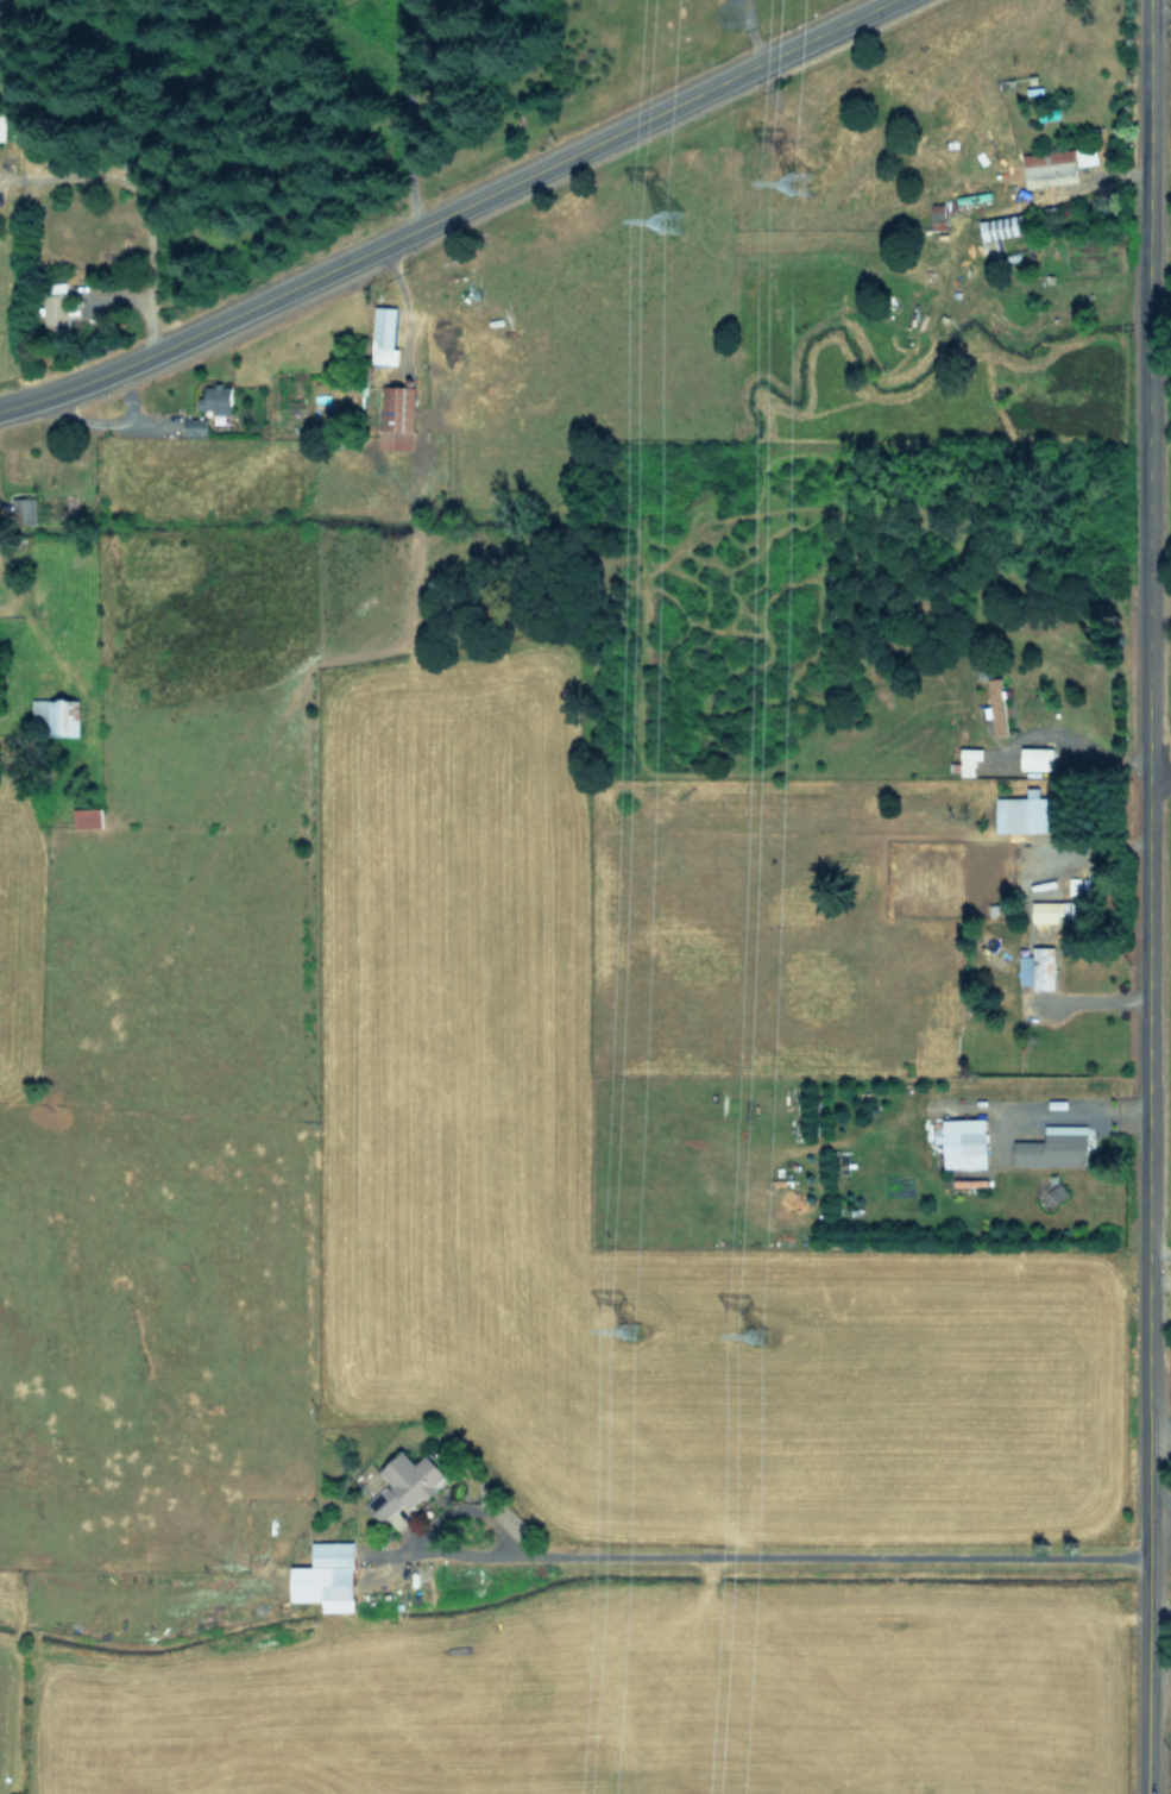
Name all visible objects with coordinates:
road: (402, 113)
building: (2, 124)
building: (1051, 168)
power tower: (811, 186)
road: (447, 212)
power tower: (680, 226)
building: (997, 232)
building: (56, 312)
building: (384, 335)
building: (216, 401)
building: (394, 419)
building: (195, 426)
building: (996, 704)
building: (52, 714)
road: (1062, 738)
building: (1037, 757)
building: (969, 759)
road: (1154, 780)
building: (1027, 811)
building: (87, 816)
road: (1138, 896)
building: (1056, 910)
building: (1038, 967)
building: (965, 1142)
building: (1054, 1146)
road: (1156, 1253)
road: (1157, 1281)
power tower: (634, 1348)
power tower: (766, 1354)
building: (405, 1483)
road: (820, 1552)
building: (327, 1576)

